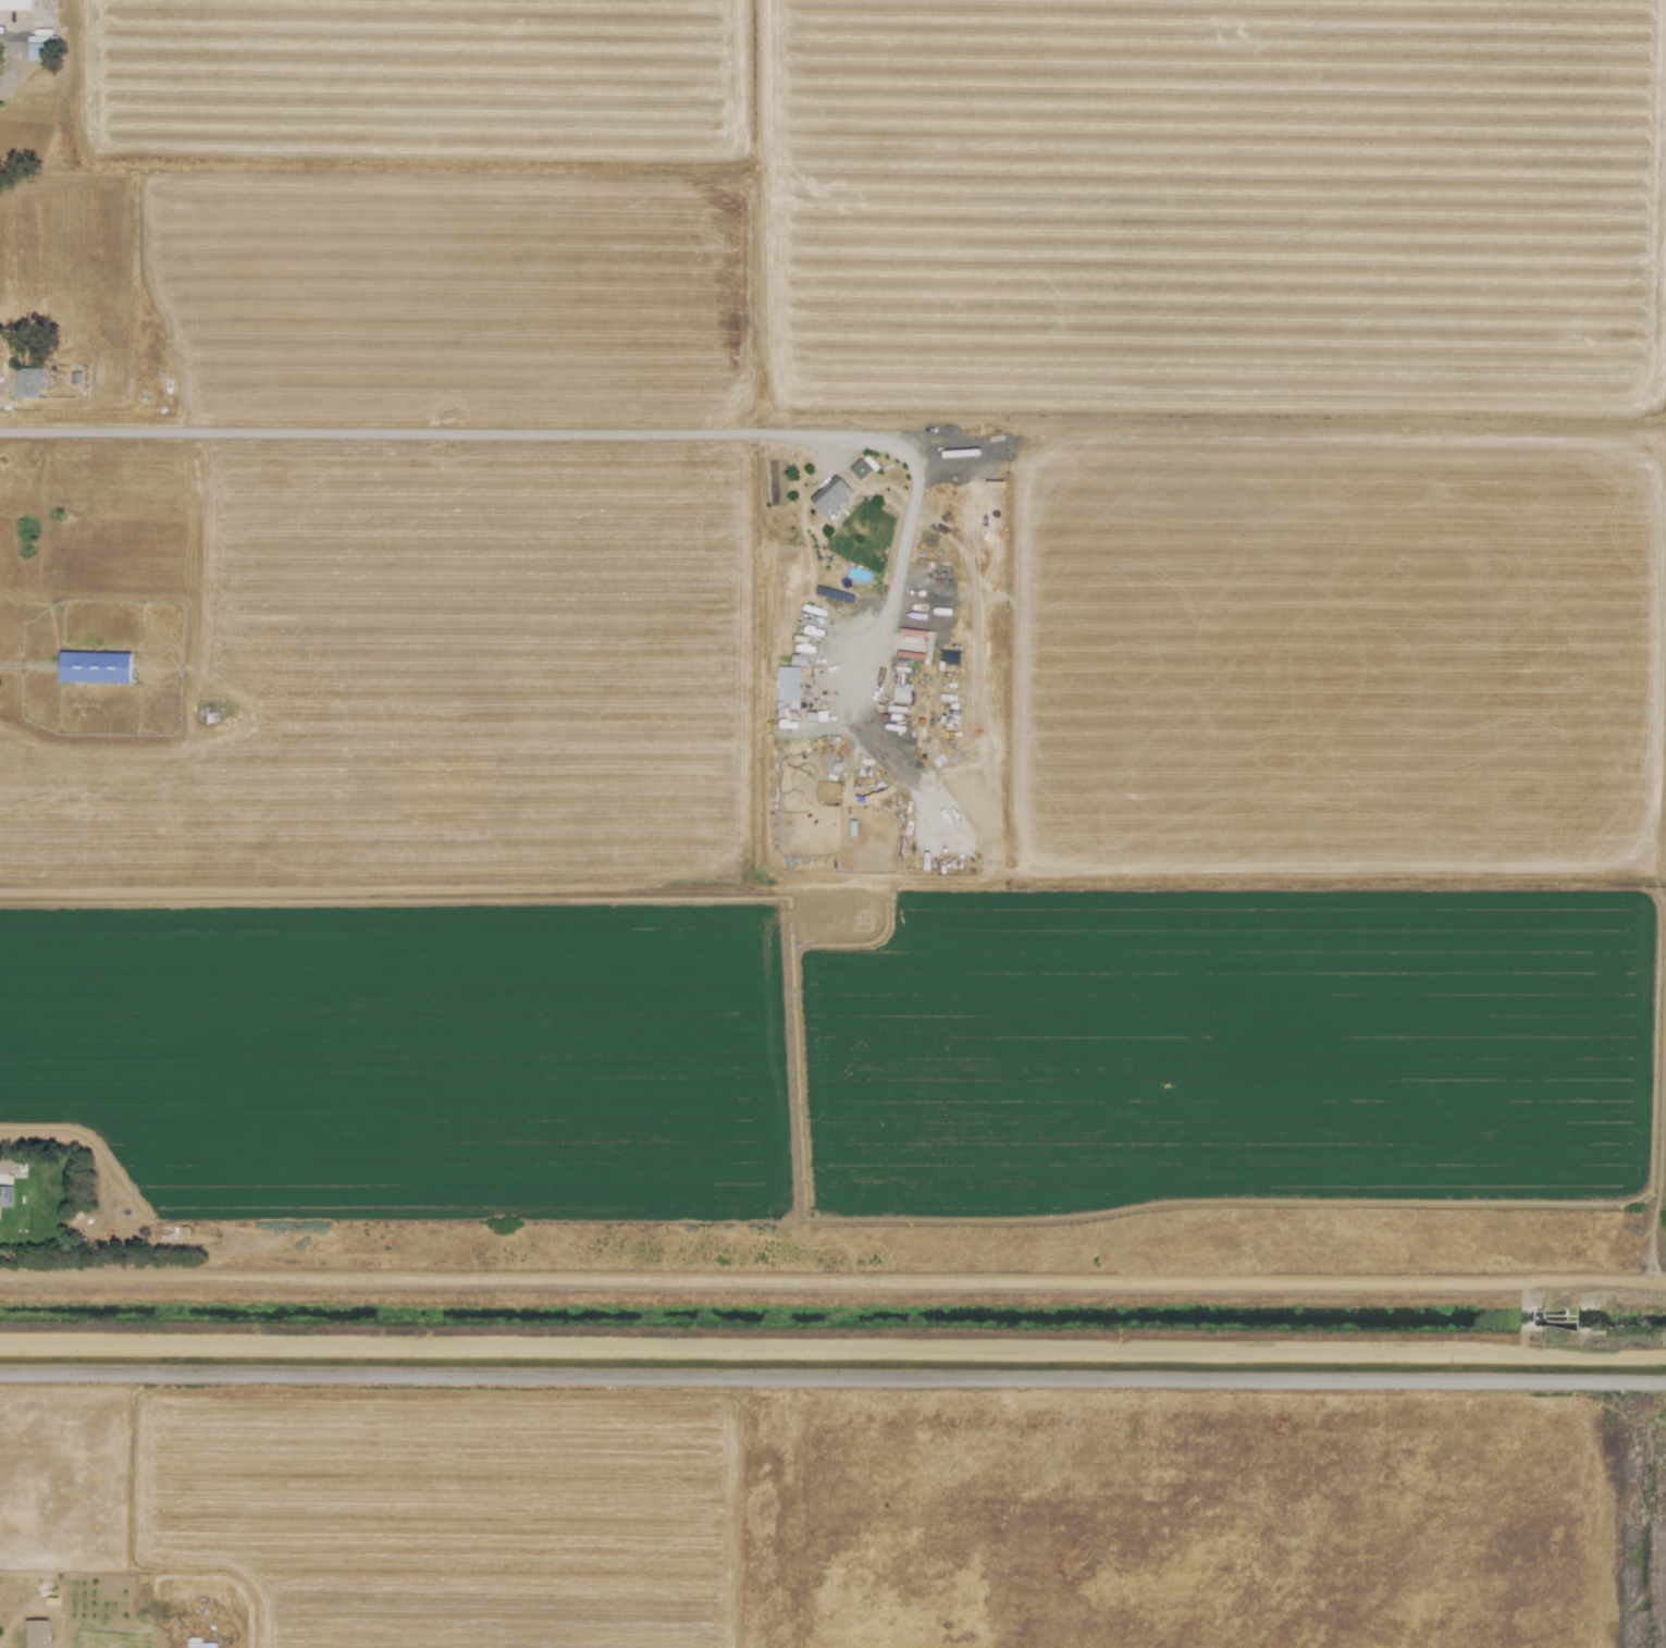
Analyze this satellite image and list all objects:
building: (14, 3)
road: (3, 36)
building: (25, 383)
road: (567, 433)
building: (859, 469)
building: (831, 499)
road: (25, 666)
building: (92, 667)
building: (787, 682)
road: (14, 1174)
building: (5, 1196)
road: (832, 1287)
road: (832, 1357)
road: (832, 1376)
building: (33, 1633)

